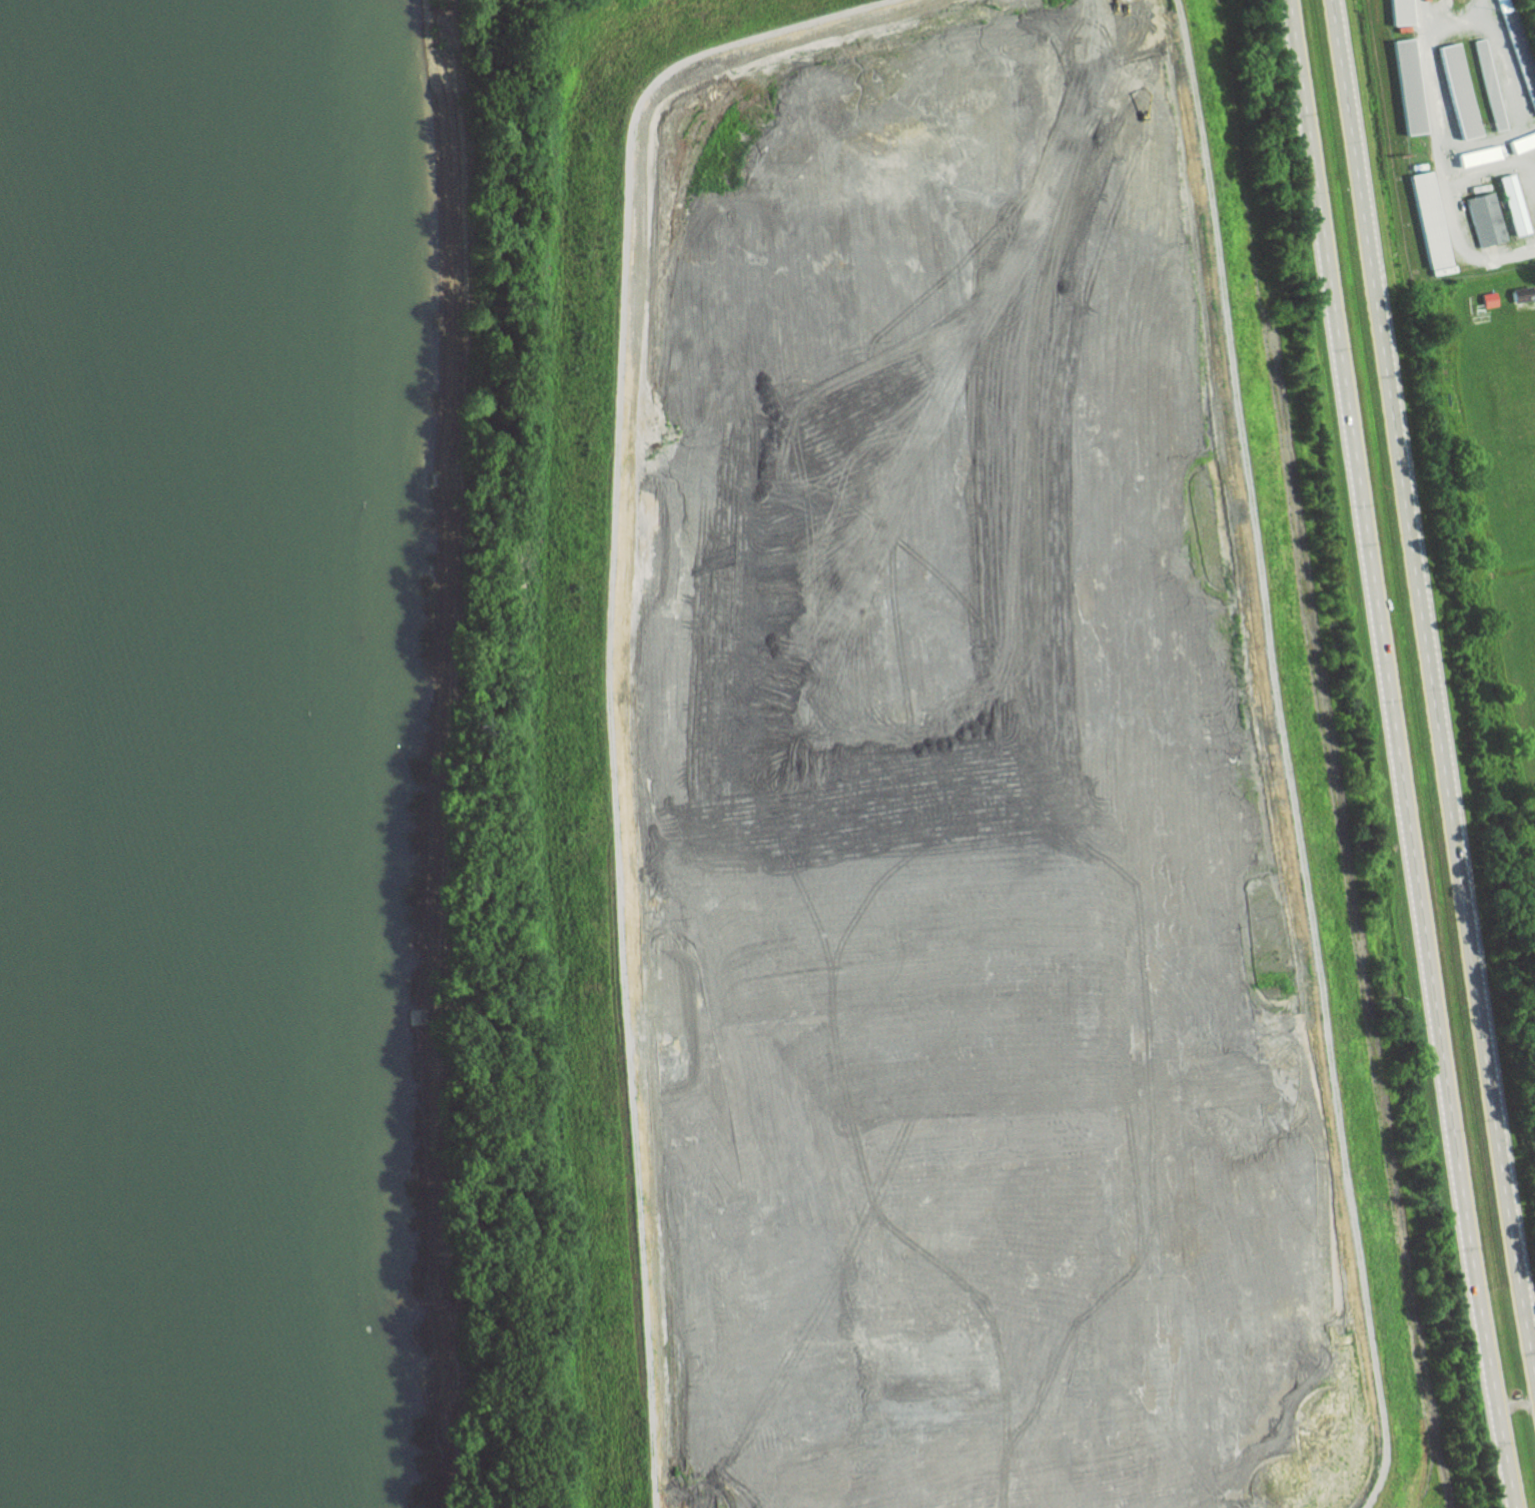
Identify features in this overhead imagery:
building: (1400, 13)
road: (1492, 37)
building: (1517, 61)
building: (1486, 88)
building: (1410, 90)
building: (1459, 95)
building: (1523, 143)
building: (1482, 156)
road: (1488, 170)
building: (1517, 205)
building: (1509, 207)
building: (1483, 221)
building: (1430, 222)
road: (1453, 234)
park: (1500, 401)
park: (1515, 503)
park: (1525, 661)
road: (609, 668)
road: (1434, 692)
road: (1401, 754)
road: (1285, 755)
road: (1355, 910)
road: (1515, 1406)

